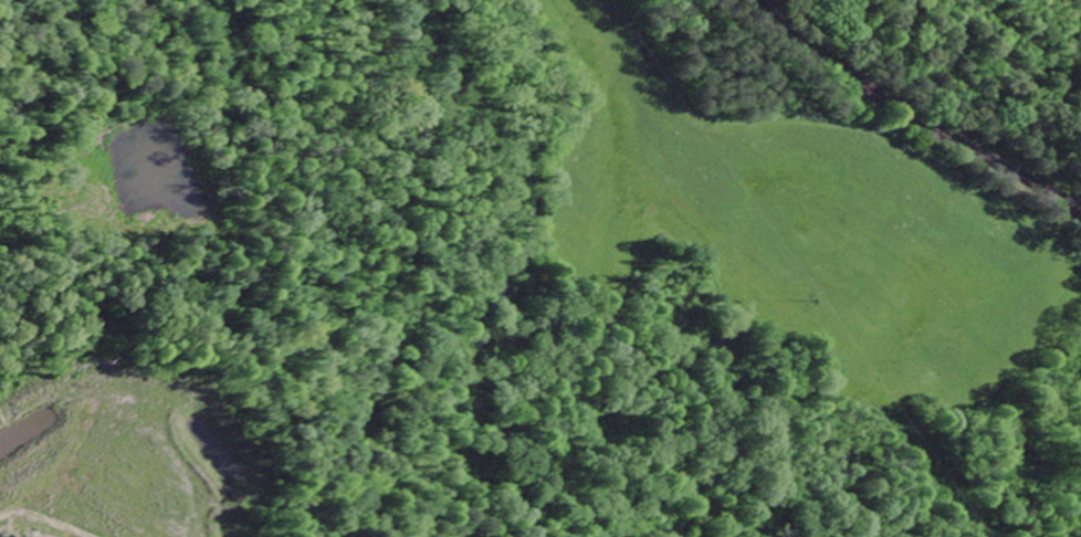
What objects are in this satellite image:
road: (907, 112)

